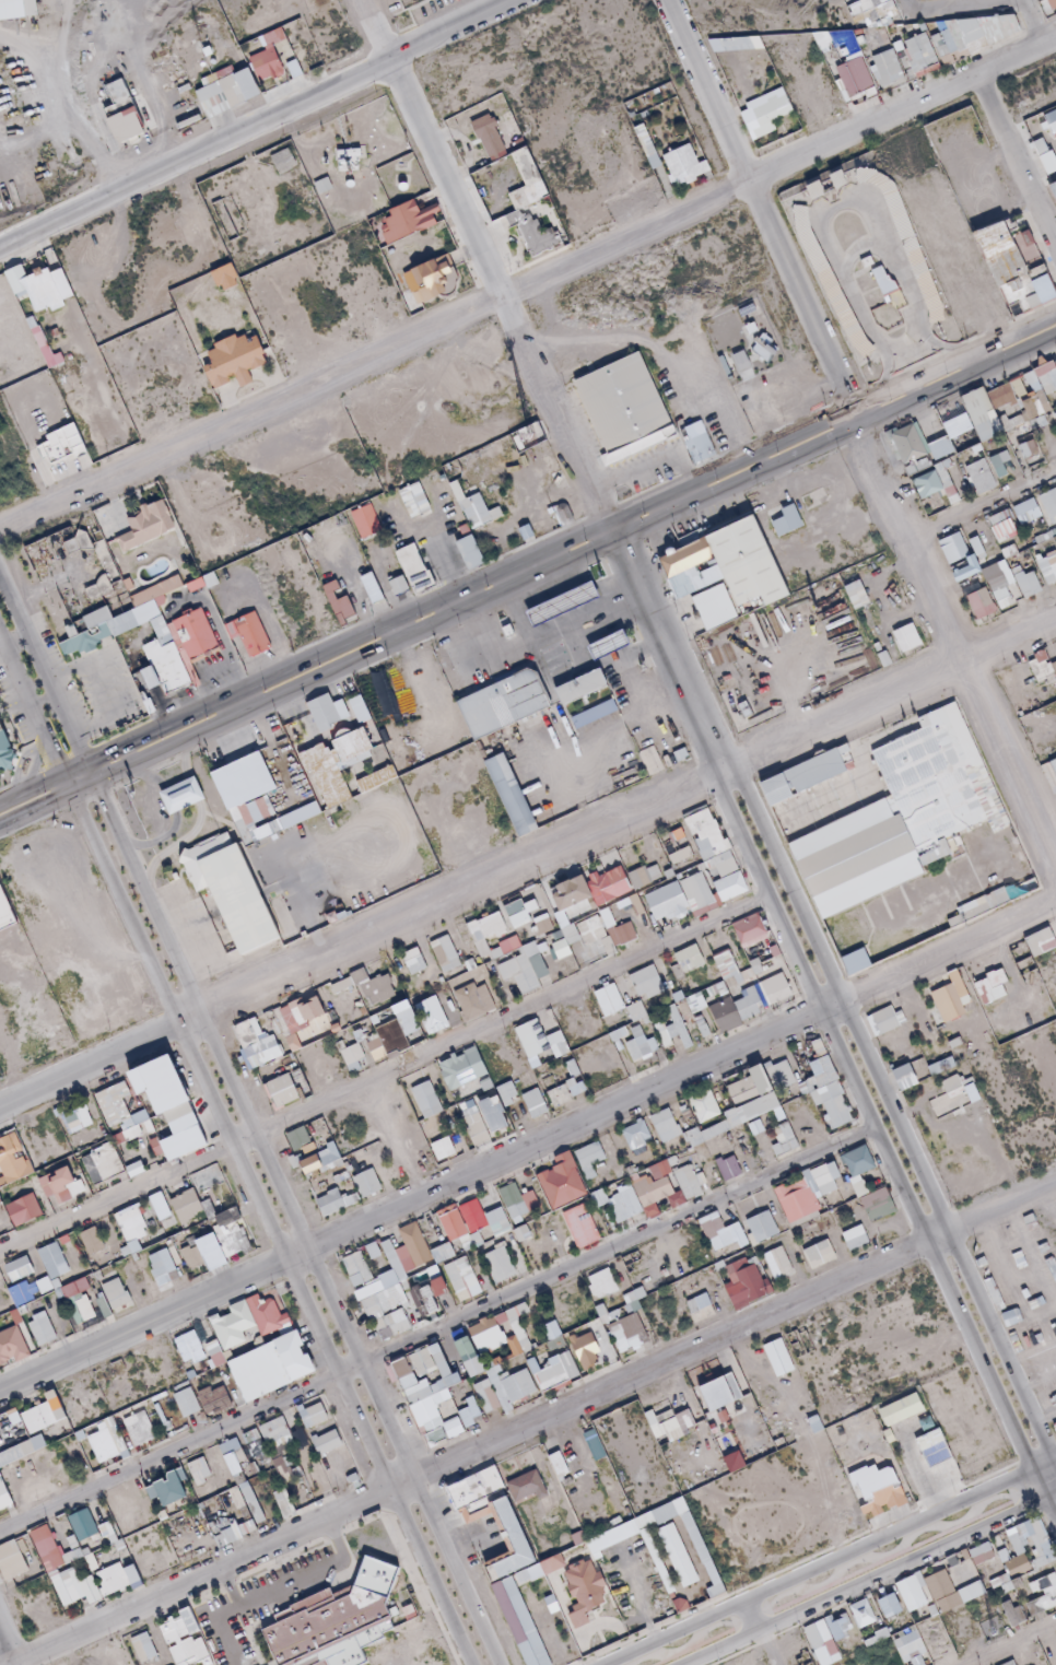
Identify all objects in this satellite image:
road: (904, 3)
road: (964, 9)
road: (1031, 22)
road: (256, 124)
road: (1016, 161)
road: (842, 206)
road: (860, 249)
road: (525, 280)
road: (990, 354)
road: (533, 359)
road: (858, 432)
road: (983, 507)
road: (527, 555)
road: (528, 579)
traffic signals: (84, 760)
traffic signals: (59, 772)
traffic signals: (94, 781)
traffic signals: (69, 793)
road: (527, 860)
road: (527, 1145)
road: (530, 1422)
road: (826, 1561)
road: (867, 1578)

